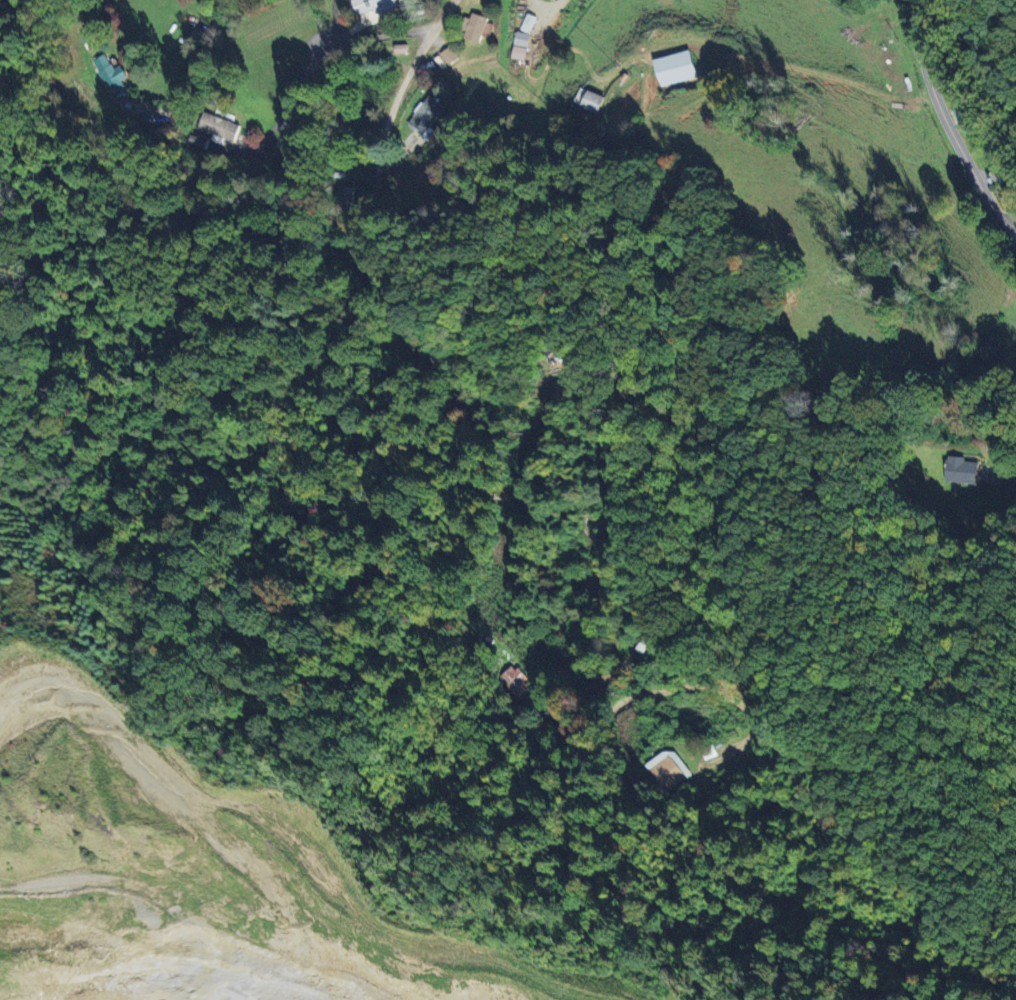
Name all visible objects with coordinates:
building: (371, 10)
building: (476, 28)
building: (522, 39)
road: (203, 49)
building: (519, 53)
building: (448, 55)
building: (675, 68)
building: (110, 76)
road: (530, 78)
building: (589, 99)
road: (315, 104)
building: (964, 109)
road: (939, 111)
building: (425, 115)
building: (219, 127)
building: (198, 141)
building: (345, 200)
building: (962, 469)
road: (501, 496)
building: (517, 683)
building: (668, 769)
quarry: (195, 881)

